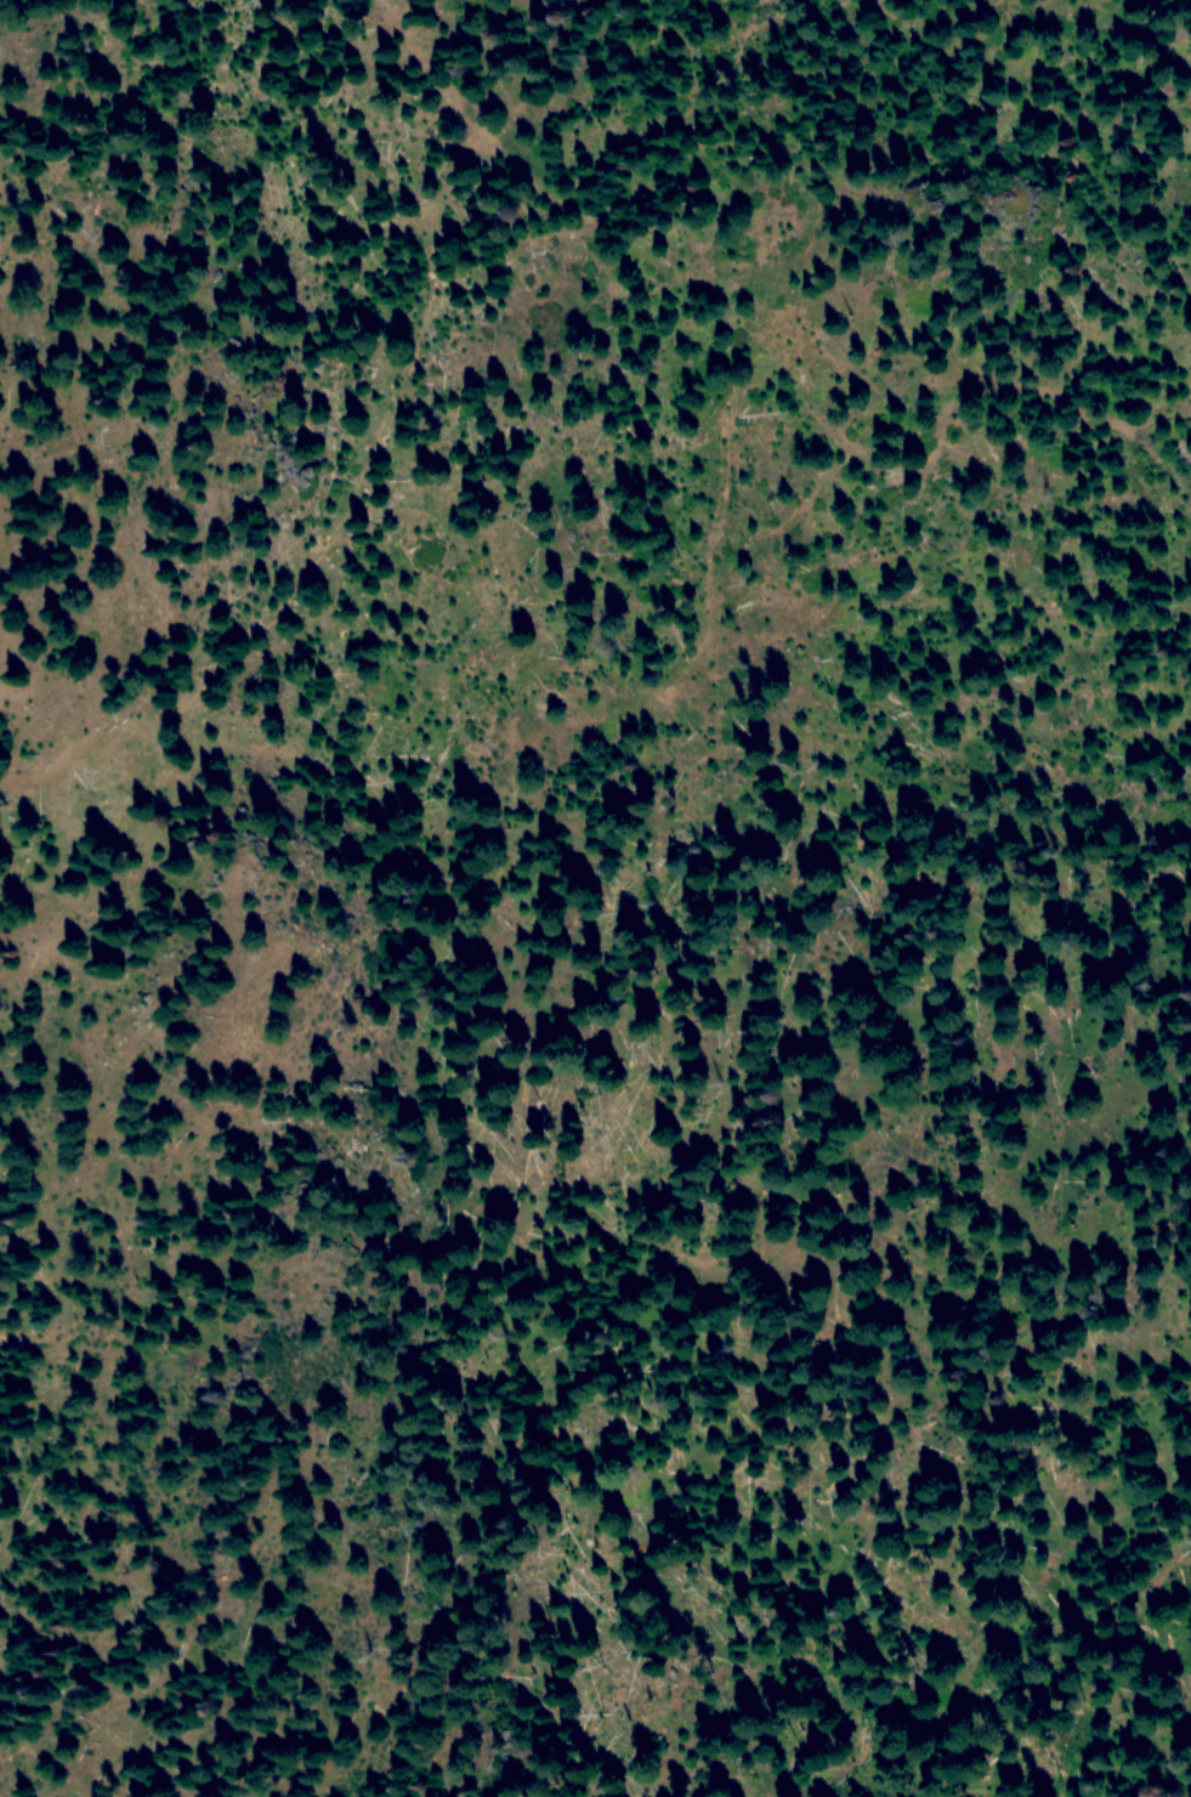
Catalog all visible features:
road: (1178, 226)

